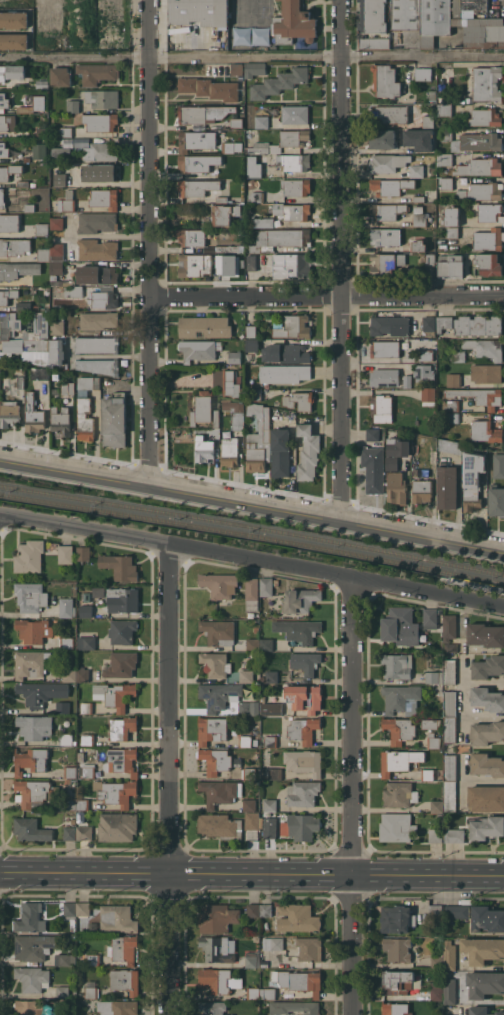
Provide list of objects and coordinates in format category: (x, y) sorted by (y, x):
building: (200, 12)
building: (373, 16)
building: (404, 18)
building: (13, 19)
building: (434, 20)
building: (294, 22)
building: (478, 25)
building: (88, 27)
building: (243, 36)
building: (13, 40)
building: (259, 40)
building: (375, 43)
road: (251, 56)
building: (237, 68)
building: (255, 69)
building: (11, 72)
building: (97, 72)
building: (423, 73)
building: (61, 76)
building: (385, 81)
building: (279, 83)
building: (487, 83)
building: (42, 84)
building: (210, 88)
building: (432, 96)
building: (102, 98)
building: (462, 98)
building: (4, 100)
building: (34, 104)
building: (73, 106)
building: (445, 110)
building: (203, 113)
building: (295, 114)
building: (390, 114)
building: (486, 117)
building: (101, 121)
building: (262, 121)
building: (428, 121)
building: (237, 122)
building: (3, 123)
building: (63, 132)
building: (446, 134)
building: (295, 137)
building: (382, 138)
building: (419, 138)
building: (197, 140)
building: (57, 141)
building: (479, 142)
building: (231, 147)
building: (263, 148)
building: (4, 150)
building: (39, 150)
building: (100, 151)
building: (61, 153)
building: (27, 159)
building: (445, 159)
building: (294, 162)
building: (387, 162)
building: (192, 163)
building: (254, 167)
building: (480, 167)
building: (10, 171)
building: (417, 171)
building: (100, 172)
building: (232, 173)
building: (59, 179)
building: (23, 183)
building: (446, 183)
building: (296, 186)
building: (391, 186)
building: (197, 187)
building: (482, 191)
building: (69, 194)
building: (233, 194)
building: (5, 195)
building: (256, 196)
building: (105, 198)
building: (418, 198)
building: (66, 204)
building: (30, 207)
building: (387, 211)
building: (490, 212)
building: (220, 215)
building: (284, 215)
building: (420, 216)
building: (452, 216)
building: (189, 219)
building: (97, 221)
building: (9, 222)
building: (57, 223)
building: (42, 229)
building: (453, 232)
building: (191, 236)
building: (386, 236)
building: (277, 238)
building: (489, 239)
road: (151, 240)
building: (418, 245)
building: (14, 247)
building: (227, 248)
building: (57, 249)
building: (97, 249)
building: (44, 254)
road: (342, 258)
building: (430, 259)
building: (251, 262)
building: (236, 263)
building: (386, 263)
building: (195, 264)
building: (226, 264)
building: (291, 264)
building: (488, 264)
building: (451, 265)
building: (18, 270)
building: (59, 274)
building: (97, 274)
building: (59, 289)
building: (74, 291)
building: (8, 295)
road: (328, 295)
building: (104, 297)
building: (24, 305)
building: (36, 307)
building: (99, 320)
building: (58, 322)
building: (41, 323)
building: (444, 323)
building: (8, 324)
building: (389, 325)
building: (478, 325)
building: (205, 326)
building: (429, 326)
building: (293, 327)
building: (251, 330)
building: (97, 344)
building: (251, 345)
building: (485, 347)
building: (35, 348)
building: (385, 348)
building: (199, 350)
building: (57, 352)
building: (286, 353)
building: (424, 354)
building: (458, 355)
road: (103, 356)
building: (235, 356)
building: (99, 366)
building: (424, 372)
building: (40, 373)
building: (284, 373)
building: (487, 373)
building: (385, 377)
building: (453, 380)
building: (407, 381)
building: (21, 382)
building: (88, 382)
building: (227, 382)
building: (68, 388)
building: (255, 395)
building: (429, 396)
building: (480, 396)
building: (299, 400)
building: (452, 405)
building: (381, 407)
building: (202, 408)
building: (235, 413)
building: (9, 414)
building: (33, 414)
building: (454, 417)
building: (216, 418)
building: (85, 419)
building: (61, 420)
building: (115, 420)
building: (486, 431)
building: (373, 434)
building: (259, 439)
building: (450, 446)
building: (204, 448)
building: (230, 449)
building: (396, 451)
building: (280, 452)
building: (308, 452)
building: (484, 463)
building: (499, 465)
building: (374, 468)
building: (415, 472)
building: (447, 487)
building: (396, 488)
building: (422, 490)
building: (471, 492)
road: (252, 499)
building: (496, 499)
railway: (252, 526)
railway: (252, 536)
building: (84, 553)
building: (66, 554)
building: (29, 556)
road: (252, 557)
building: (120, 566)
railway: (447, 578)
building: (220, 584)
building: (268, 585)
building: (99, 591)
building: (252, 594)
building: (31, 596)
building: (86, 596)
building: (123, 599)
building: (300, 599)
building: (66, 607)
building: (86, 610)
building: (251, 614)
building: (430, 617)
building: (400, 626)
building: (449, 627)
building: (256, 629)
building: (299, 629)
building: (34, 630)
building: (122, 631)
building: (218, 631)
building: (485, 634)
building: (67, 642)
building: (87, 642)
building: (253, 644)
building: (267, 644)
building: (450, 647)
building: (306, 662)
building: (30, 663)
building: (121, 664)
building: (215, 664)
building: (397, 665)
building: (488, 667)
building: (450, 671)
building: (83, 673)
building: (70, 675)
building: (248, 676)
building: (272, 676)
building: (435, 677)
building: (42, 692)
building: (115, 694)
building: (219, 695)
building: (305, 697)
building: (488, 698)
building: (402, 699)
building: (450, 704)
building: (63, 707)
building: (87, 707)
building: (244, 708)
building: (271, 708)
building: (430, 723)
building: (33, 727)
building: (123, 727)
building: (212, 729)
building: (303, 729)
building: (399, 729)
building: (450, 729)
building: (487, 732)
building: (67, 738)
building: (87, 739)
building: (245, 740)
building: (270, 741)
building: (433, 741)
building: (30, 760)
building: (122, 760)
building: (215, 760)
building: (304, 761)
building: (394, 762)
building: (487, 764)
building: (450, 767)
building: (71, 772)
building: (86, 772)
building: (250, 772)
building: (271, 773)
building: (432, 774)
road: (170, 777)
building: (68, 780)
building: (220, 791)
building: (35, 792)
building: (116, 792)
building: (303, 792)
building: (400, 794)
road: (351, 795)
building: (450, 796)
building: (486, 798)
building: (71, 804)
building: (83, 804)
building: (249, 805)
building: (270, 805)
building: (437, 806)
building: (38, 811)
building: (81, 815)
building: (252, 820)
building: (220, 825)
building: (118, 826)
building: (301, 826)
building: (397, 827)
building: (487, 827)
building: (269, 828)
building: (31, 829)
building: (69, 833)
building: (85, 833)
building: (436, 835)
building: (455, 835)
road: (252, 872)
building: (278, 902)
building: (83, 908)
building: (68, 909)
building: (253, 909)
building: (266, 909)
building: (436, 911)
building: (457, 911)
building: (217, 917)
building: (33, 918)
building: (117, 918)
building: (298, 918)
building: (397, 918)
building: (487, 918)
building: (93, 927)
building: (274, 943)
building: (32, 947)
building: (124, 948)
building: (218, 948)
building: (309, 948)
building: (398, 949)
building: (483, 949)
building: (441, 953)
building: (450, 954)
building: (63, 959)
building: (94, 959)
building: (253, 959)
building: (438, 961)
building: (32, 978)
building: (125, 980)
building: (218, 980)
building: (298, 980)
building: (409, 983)
building: (484, 983)
building: (450, 990)
building: (62, 991)
building: (91, 991)
building: (253, 992)
building: (268, 993)
building: (30, 1007)
building: (117, 1007)
building: (213, 1007)
building: (295, 1007)
building: (396, 1008)
building: (484, 1011)
building: (88, 1013)
building: (450, 1014)

